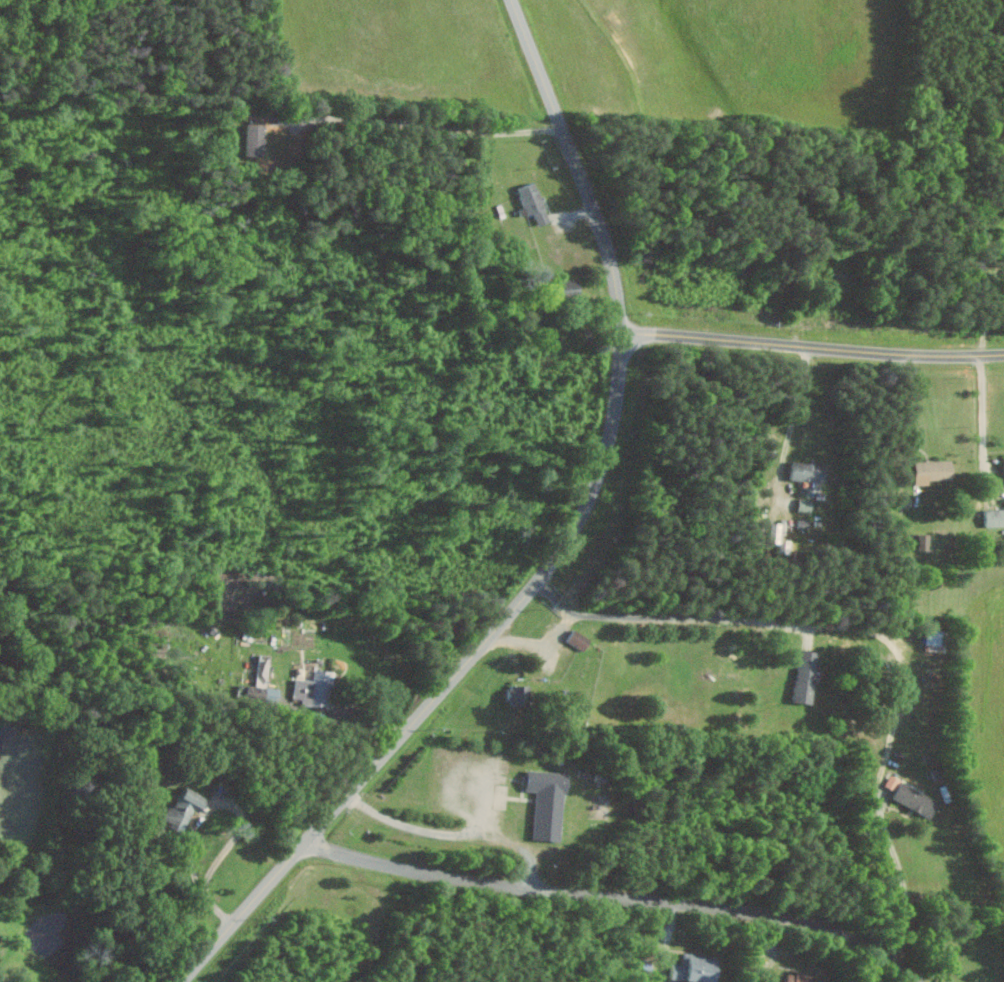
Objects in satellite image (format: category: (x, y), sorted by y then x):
road: (429, 125)
building: (256, 140)
building: (535, 202)
road: (988, 307)
road: (813, 348)
road: (904, 405)
road: (795, 407)
road: (984, 425)
building: (934, 471)
building: (810, 472)
building: (806, 505)
building: (994, 518)
building: (780, 538)
road: (562, 546)
road: (877, 631)
building: (938, 636)
building: (580, 639)
road: (539, 641)
building: (806, 675)
building: (316, 688)
building: (520, 694)
building: (917, 799)
building: (549, 803)
building: (183, 809)
road: (206, 812)
road: (454, 833)
road: (617, 896)
building: (696, 968)
building: (800, 977)

